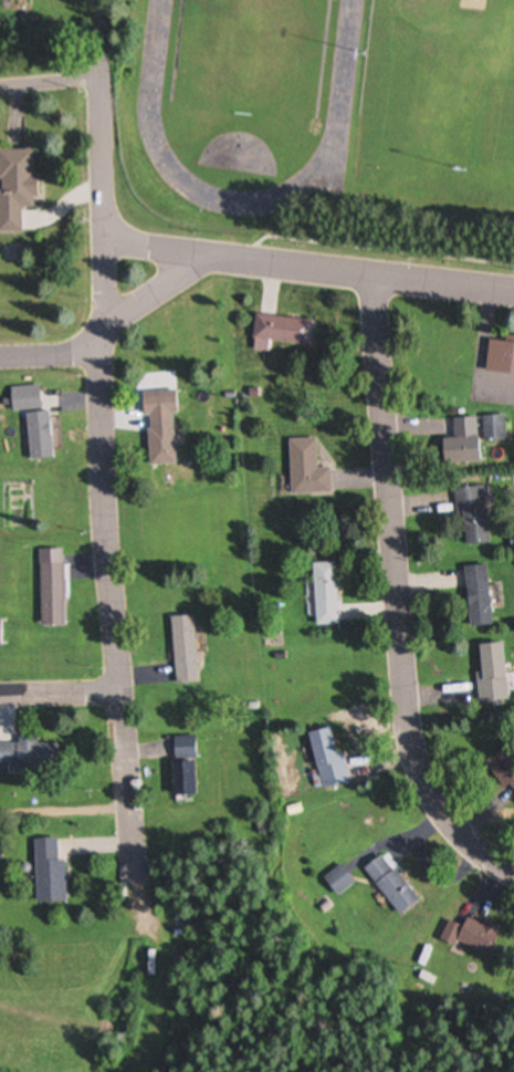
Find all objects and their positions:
building: (481, 34)
road: (48, 82)
park: (439, 97)
track: (150, 107)
building: (13, 187)
road: (155, 248)
road: (359, 272)
road: (109, 327)
building: (276, 332)
road: (98, 346)
building: (499, 355)
building: (31, 421)
building: (157, 428)
building: (491, 428)
building: (459, 443)
building: (304, 468)
building: (470, 516)
building: (50, 594)
building: (323, 594)
road: (396, 594)
building: (475, 596)
building: (0, 635)
building: (181, 649)
building: (489, 673)
road: (60, 695)
building: (181, 747)
building: (28, 758)
building: (325, 758)
building: (502, 768)
building: (181, 778)
road: (128, 789)
building: (46, 871)
building: (336, 881)
building: (388, 885)
building: (469, 935)

